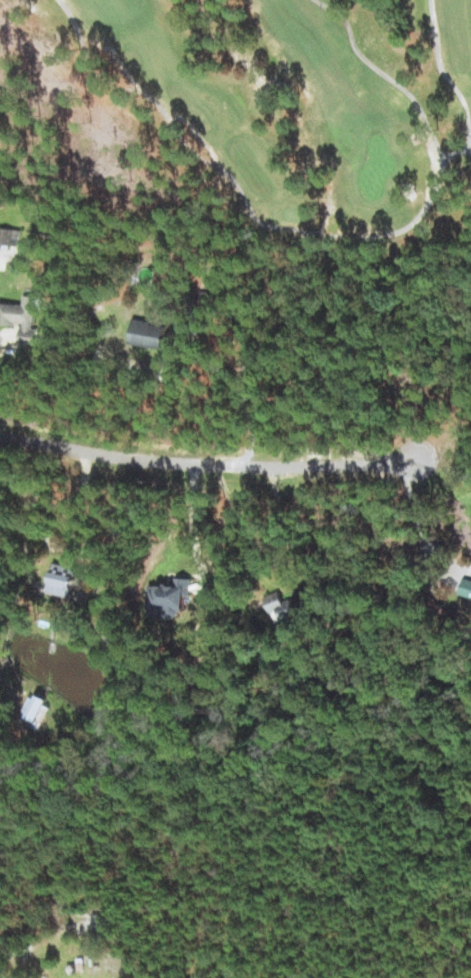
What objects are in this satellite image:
park: (260, 110)
building: (10, 236)
building: (21, 318)
building: (147, 333)
road: (206, 462)
building: (61, 579)
building: (466, 587)
building: (167, 598)
building: (288, 605)
building: (37, 712)

